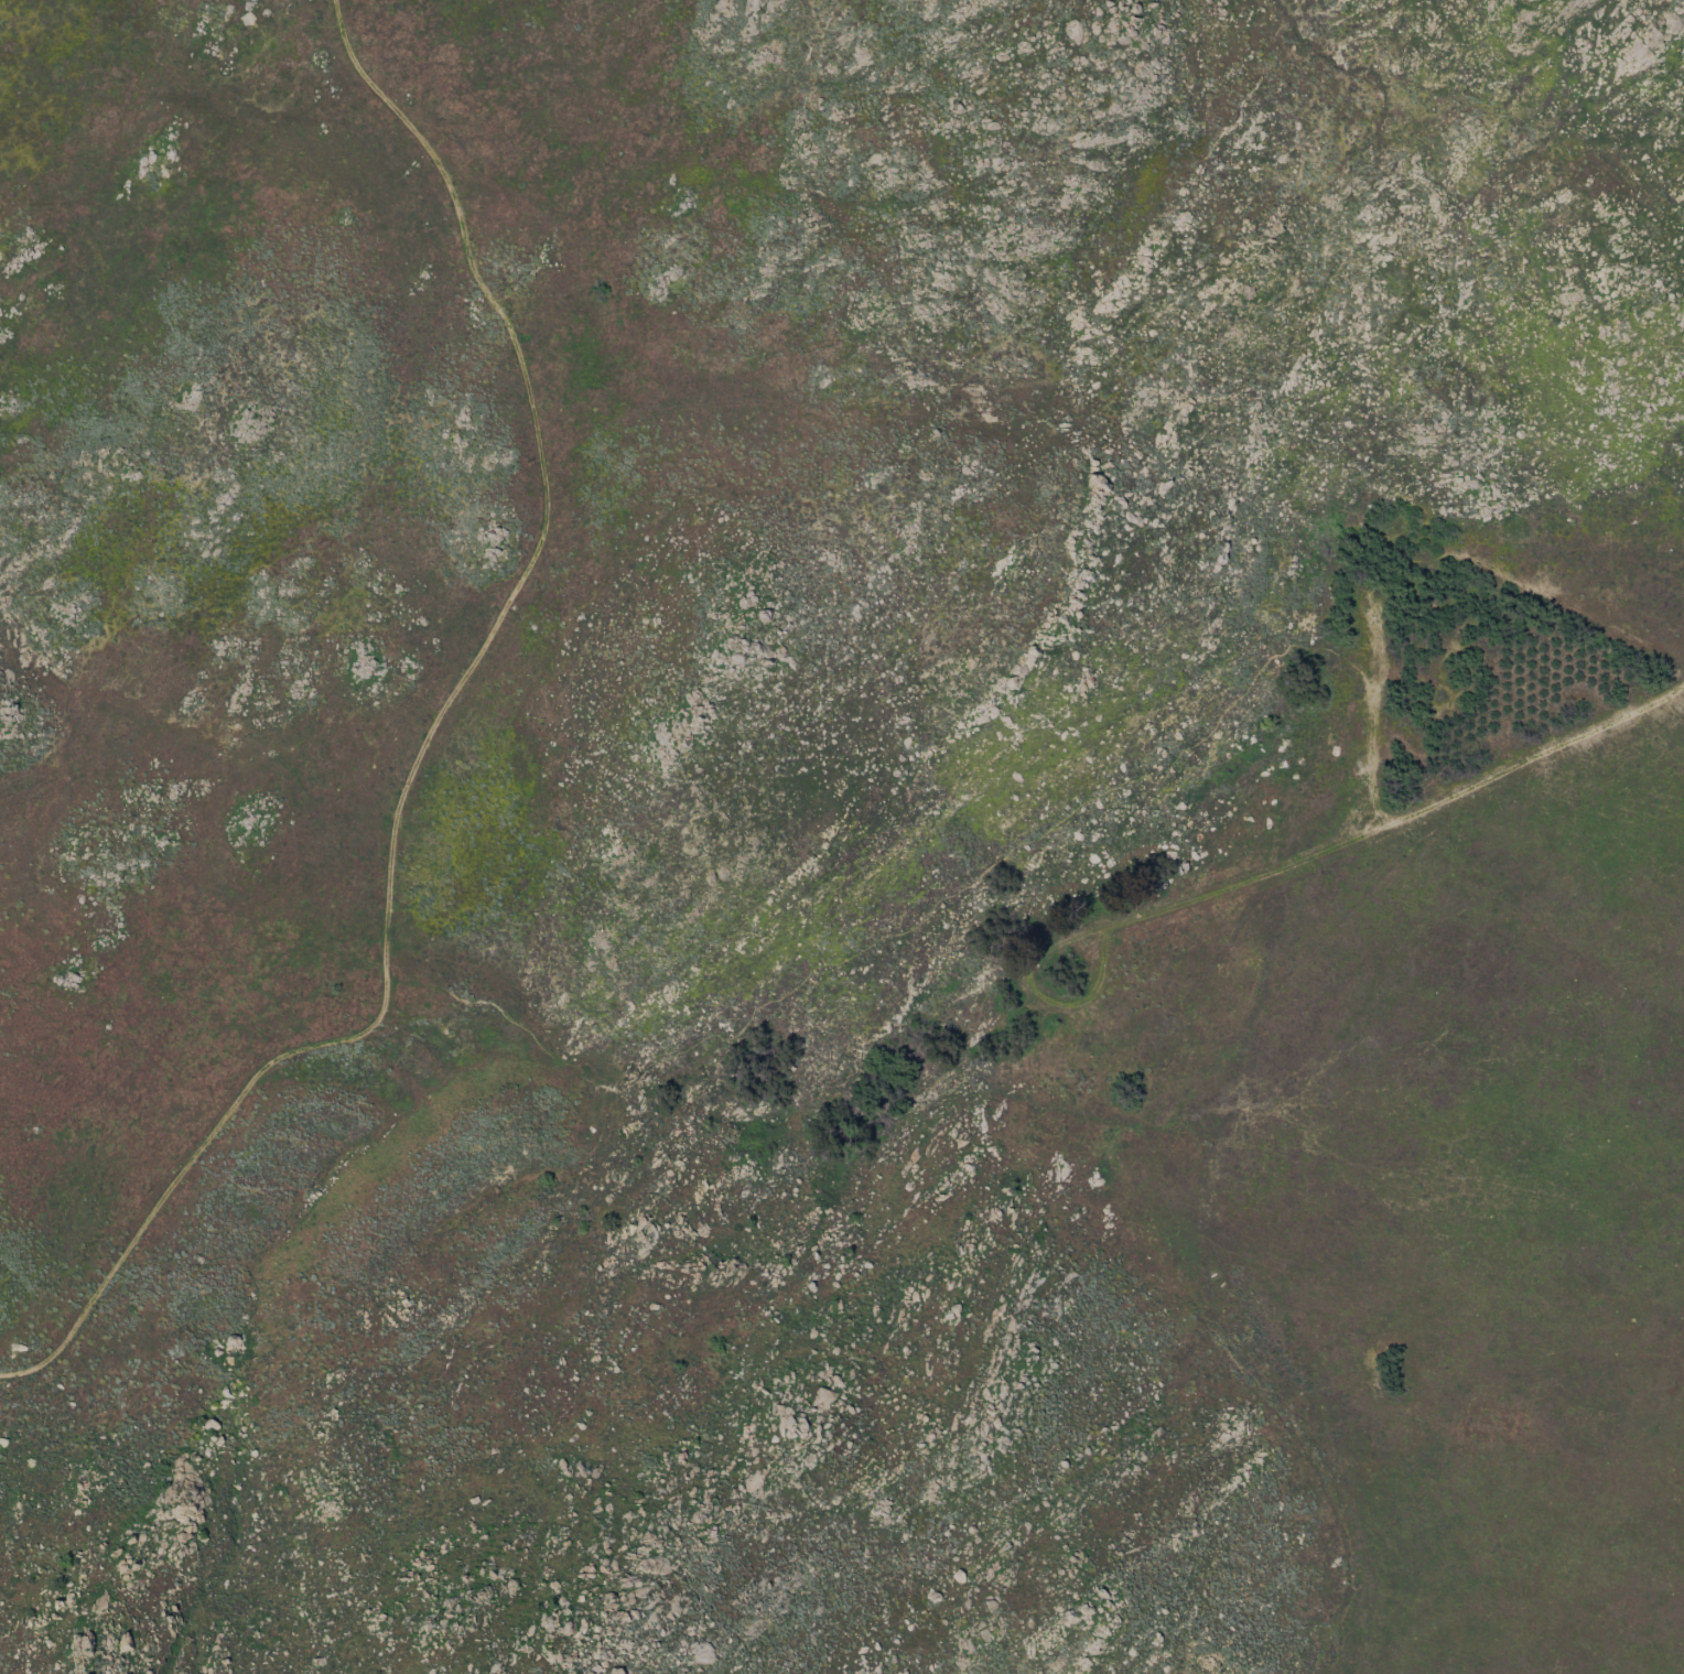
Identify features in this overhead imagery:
road: (424, 739)

